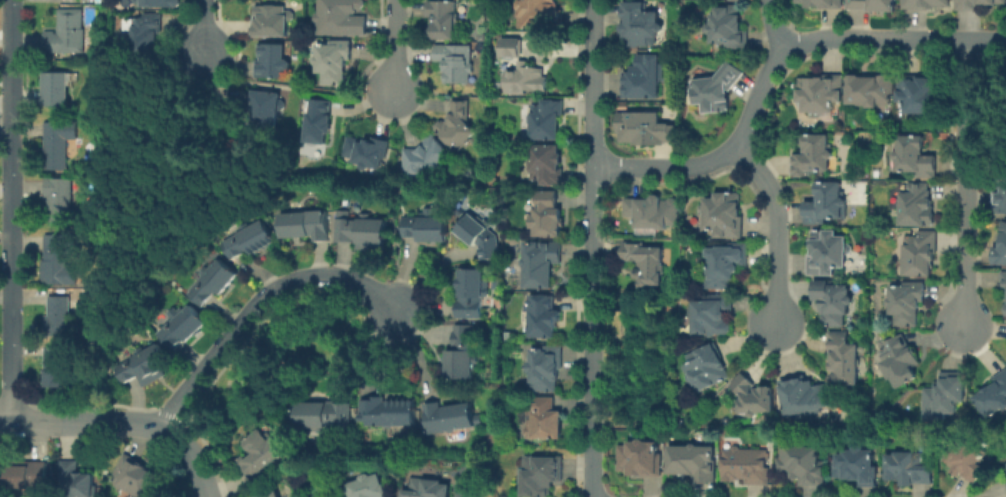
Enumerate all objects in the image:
building: (99, 0)
building: (160, 3)
building: (820, 4)
building: (924, 4)
building: (976, 4)
building: (872, 5)
building: (103, 7)
building: (538, 14)
building: (339, 17)
building: (441, 18)
building: (270, 19)
building: (638, 24)
building: (726, 26)
road: (775, 26)
road: (203, 28)
building: (69, 33)
building: (150, 35)
building: (542, 37)
road: (395, 45)
building: (509, 47)
building: (270, 60)
building: (331, 60)
building: (454, 61)
road: (773, 65)
building: (643, 76)
building: (524, 78)
road: (297, 87)
building: (60, 88)
building: (714, 88)
building: (869, 89)
building: (819, 93)
building: (920, 93)
building: (263, 107)
building: (545, 119)
building: (317, 120)
building: (455, 125)
building: (645, 128)
building: (60, 143)
building: (367, 150)
building: (812, 154)
building: (424, 156)
building: (914, 156)
building: (545, 163)
building: (877, 173)
building: (493, 179)
road: (963, 184)
building: (1000, 193)
building: (62, 200)
building: (824, 202)
building: (916, 204)
road: (11, 211)
building: (458, 211)
building: (651, 213)
building: (545, 214)
building: (722, 214)
building: (304, 224)
building: (426, 225)
building: (361, 230)
road: (776, 231)
road: (131, 233)
building: (478, 235)
building: (248, 238)
building: (1000, 246)
road: (593, 248)
building: (825, 252)
building: (919, 252)
building: (59, 259)
building: (539, 262)
building: (643, 262)
building: (724, 263)
building: (1003, 279)
building: (212, 282)
building: (496, 283)
building: (470, 292)
building: (831, 300)
building: (906, 302)
road: (258, 304)
building: (1005, 308)
building: (711, 314)
building: (62, 315)
building: (541, 315)
building: (180, 325)
building: (508, 335)
building: (460, 353)
building: (897, 357)
building: (842, 358)
building: (144, 365)
building: (543, 367)
building: (705, 367)
building: (58, 368)
building: (943, 395)
building: (993, 395)
building: (751, 396)
building: (802, 396)
building: (387, 411)
building: (323, 416)
building: (450, 416)
building: (541, 419)
road: (137, 420)
road: (5, 422)
road: (58, 422)
building: (259, 453)
road: (194, 456)
building: (638, 458)
building: (966, 458)
building: (691, 462)
building: (745, 465)
building: (801, 465)
building: (856, 465)
building: (1004, 465)
building: (908, 467)
building: (30, 474)
building: (540, 475)
building: (136, 476)
building: (78, 481)
building: (366, 486)
building: (426, 488)
building: (267, 494)

